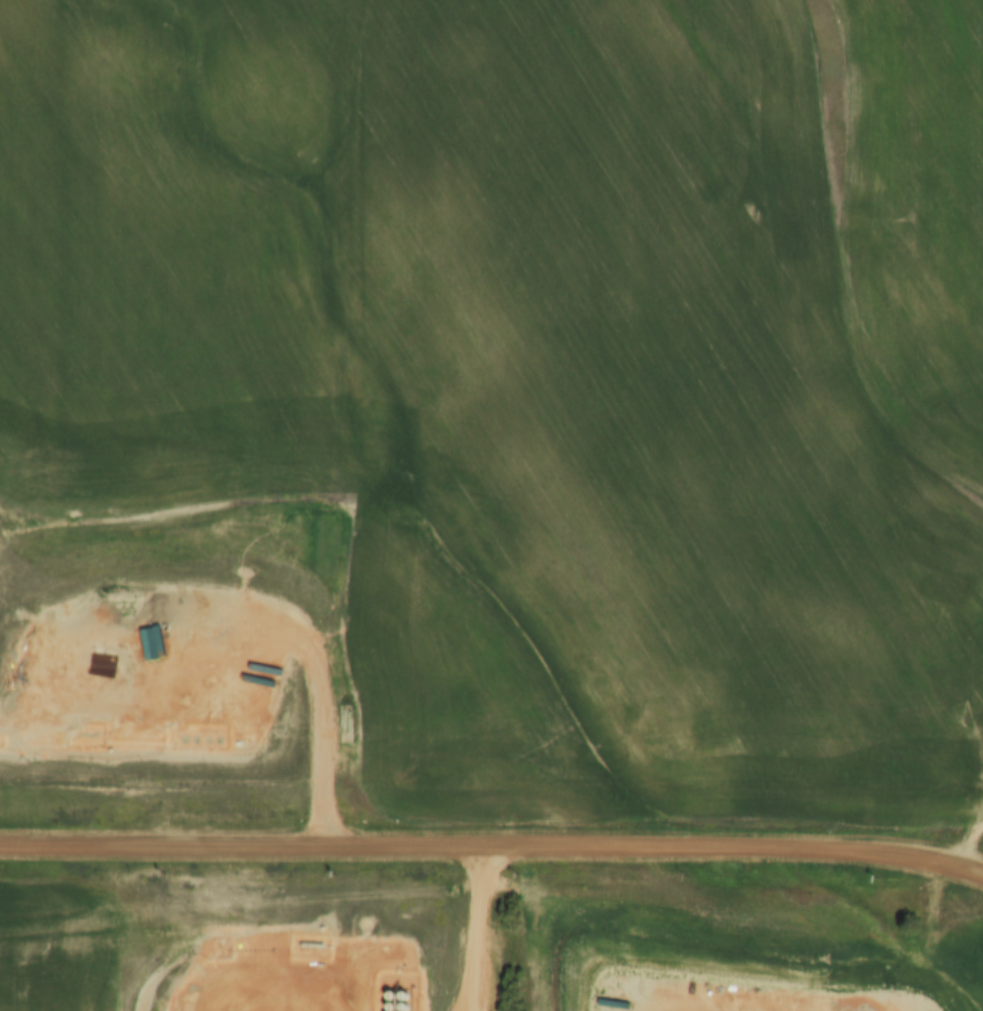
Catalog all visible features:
road: (287, 630)
building: (16, 638)
building: (14, 706)
building: (251, 715)
building: (131, 733)
road: (971, 845)
road: (492, 851)
road: (477, 930)
building: (393, 933)
road: (261, 975)
building: (148, 978)
road: (473, 1005)
road: (761, 1009)

